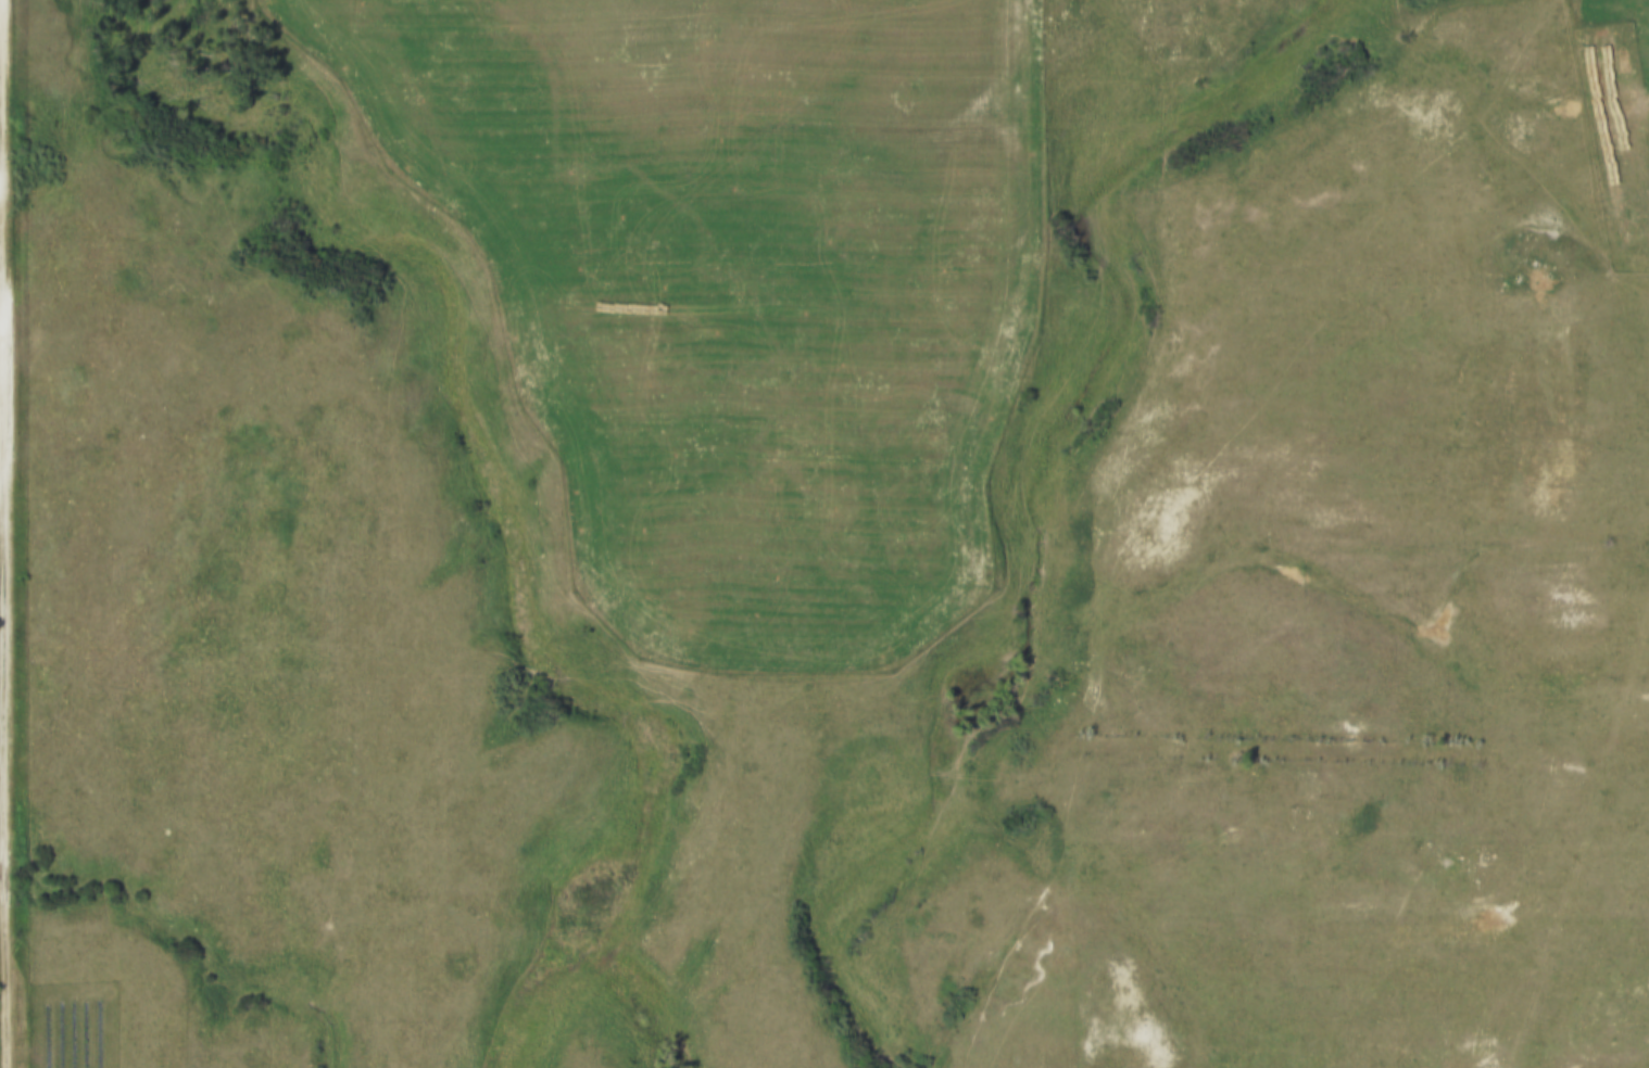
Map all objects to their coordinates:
road: (3, 692)

